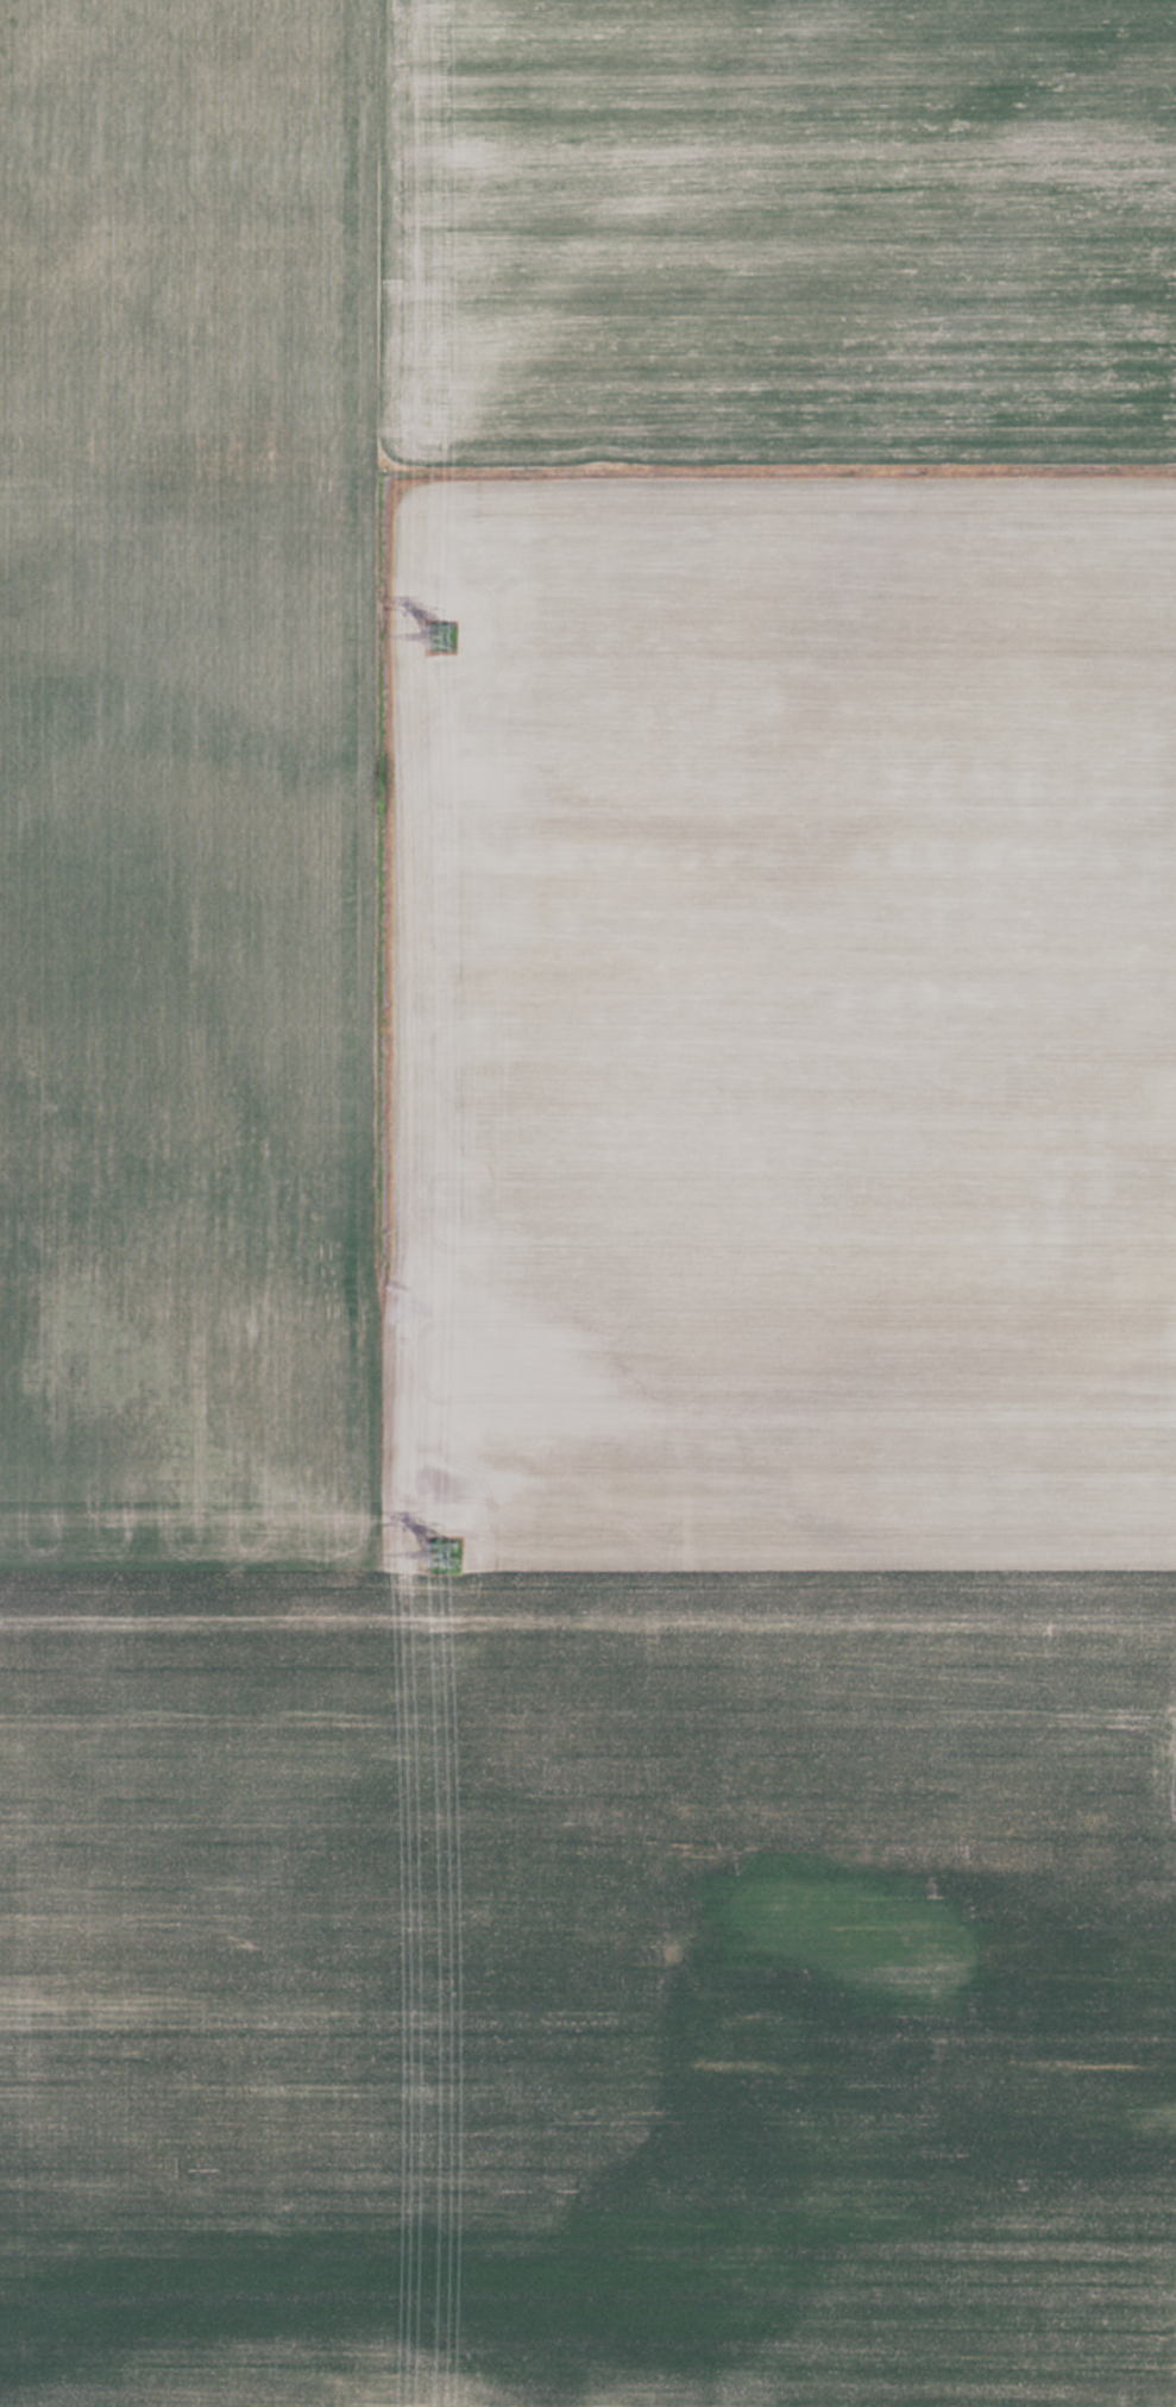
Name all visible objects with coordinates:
power tower: (442, 633)
power tower: (444, 1554)

